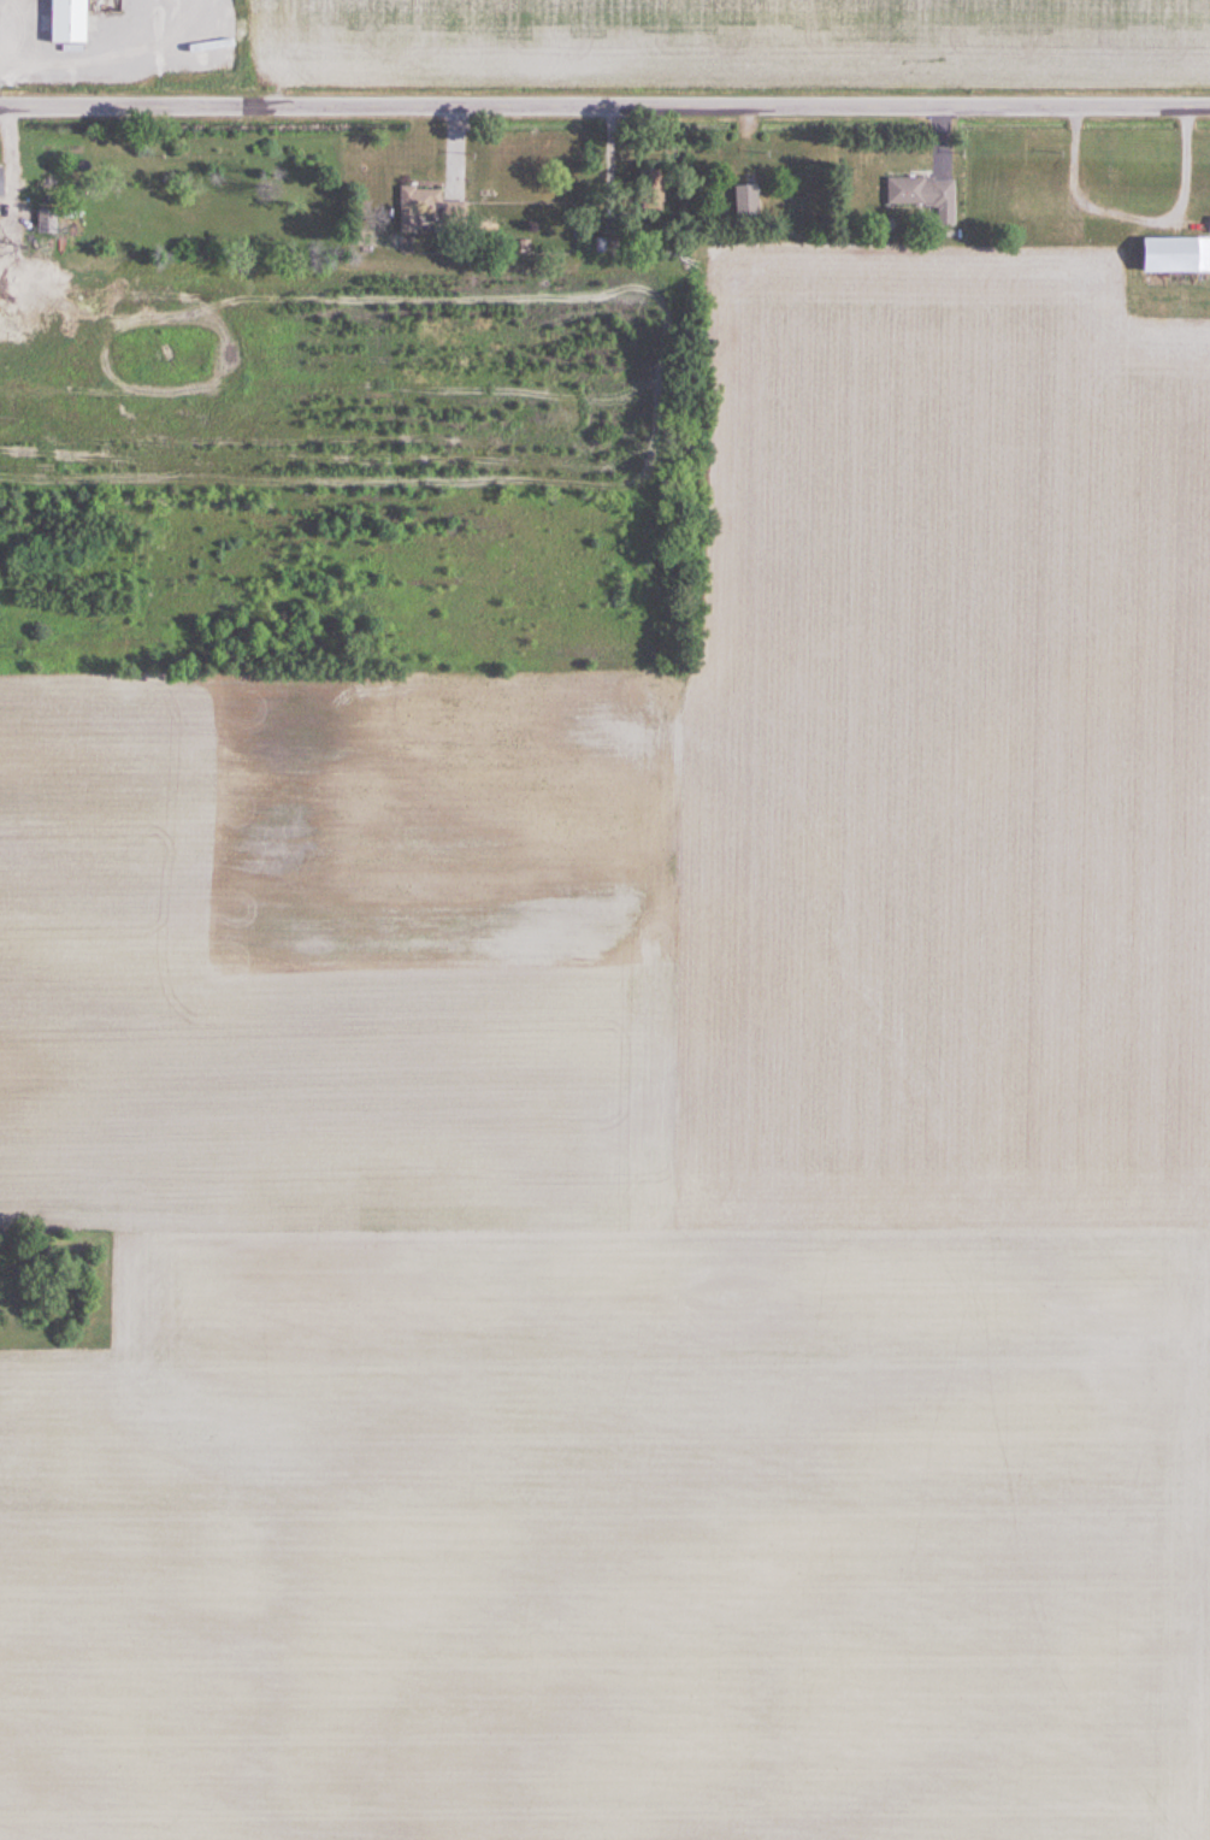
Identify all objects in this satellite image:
building: (66, 22)
road: (604, 107)
building: (649, 191)
building: (915, 193)
building: (744, 202)
building: (415, 207)
building: (454, 214)
building: (1043, 214)
building: (1209, 226)
building: (1174, 256)

